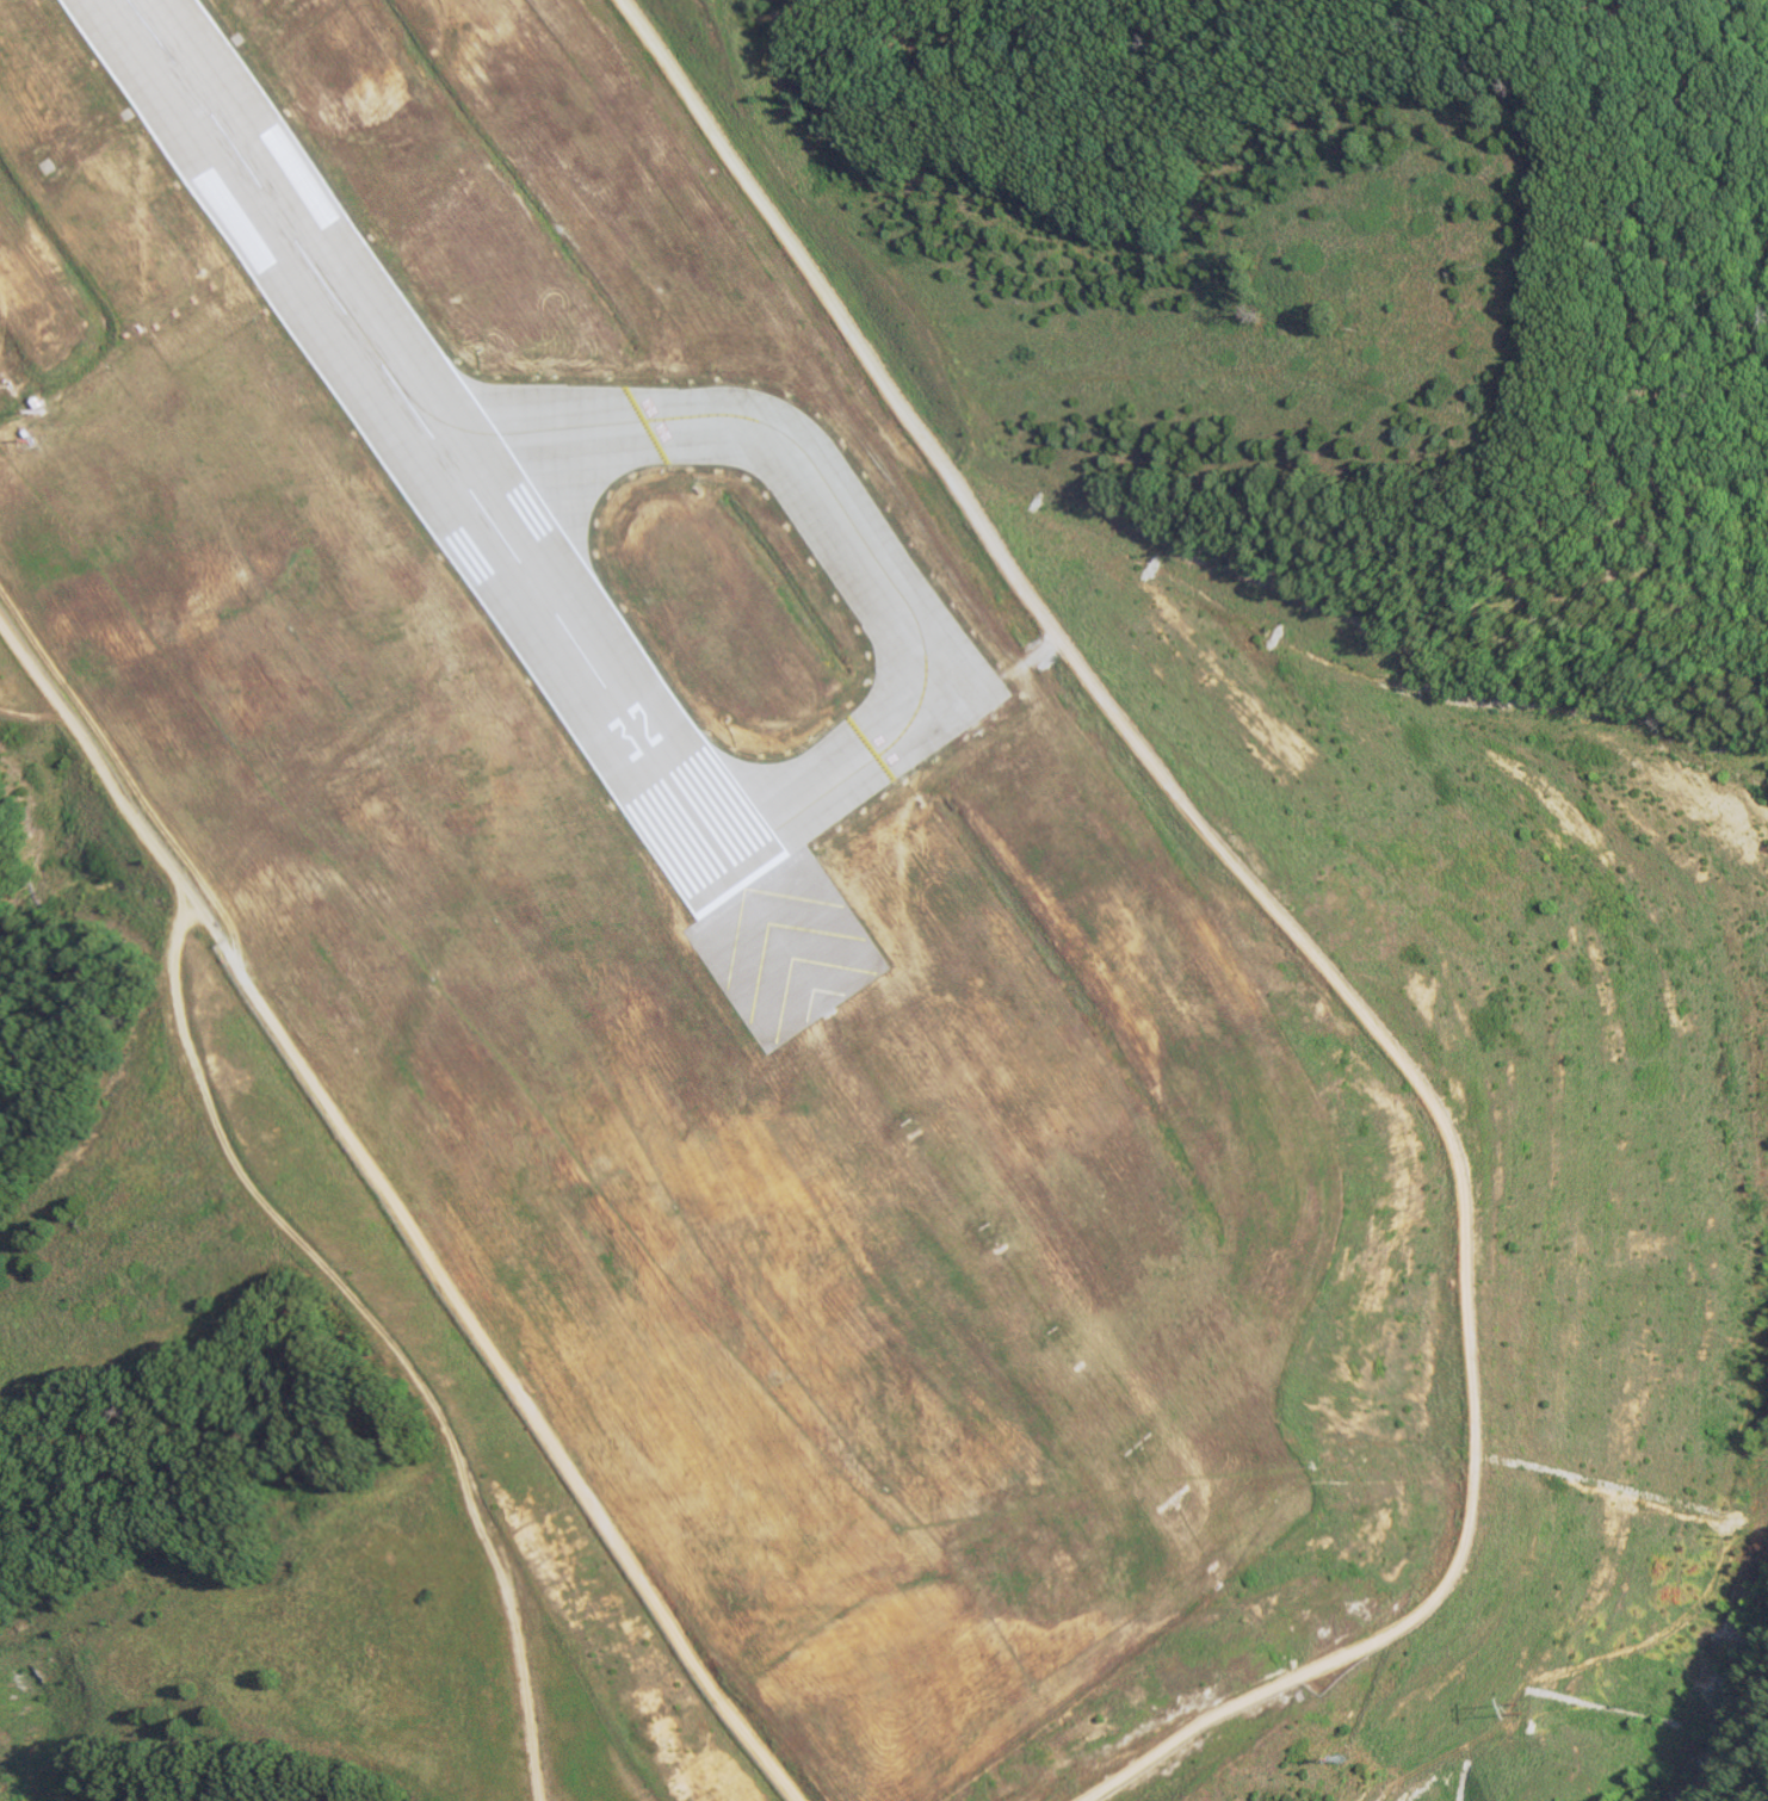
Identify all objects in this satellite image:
airport taxiway: (713, 415)
airport runway: (412, 440)
airport taxiway: (817, 787)
road: (1299, 941)
airport: (746, 1004)
road: (394, 1227)
power tower: (1559, 1710)

